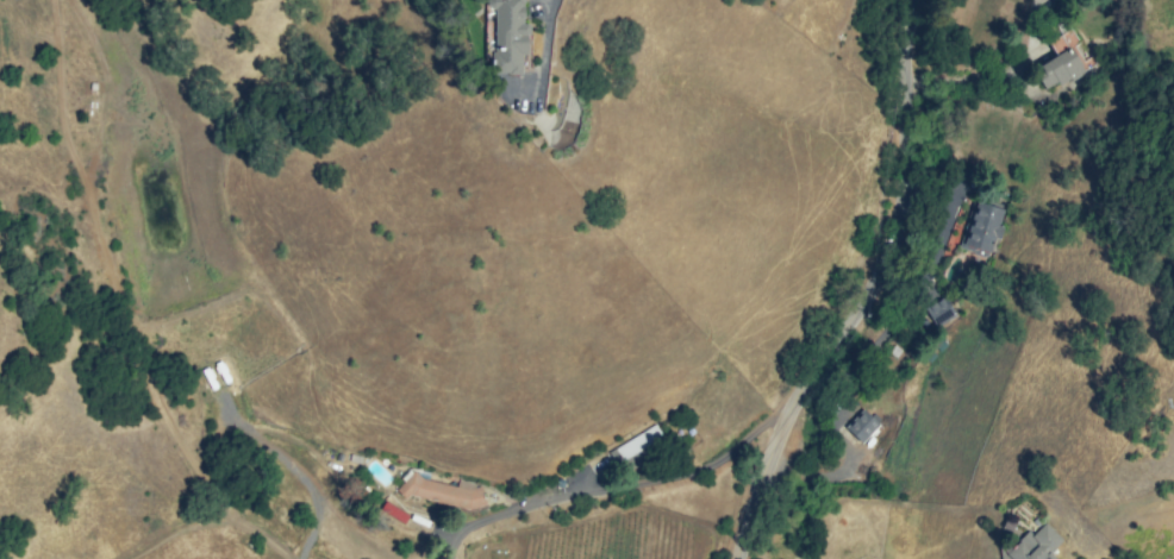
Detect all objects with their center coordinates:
building: (507, 33)
building: (525, 36)
road: (545, 50)
building: (1064, 73)
road: (972, 77)
building: (983, 227)
road: (870, 290)
building: (941, 312)
building: (864, 425)
building: (644, 446)
road: (630, 484)
building: (443, 495)
building: (1039, 546)

